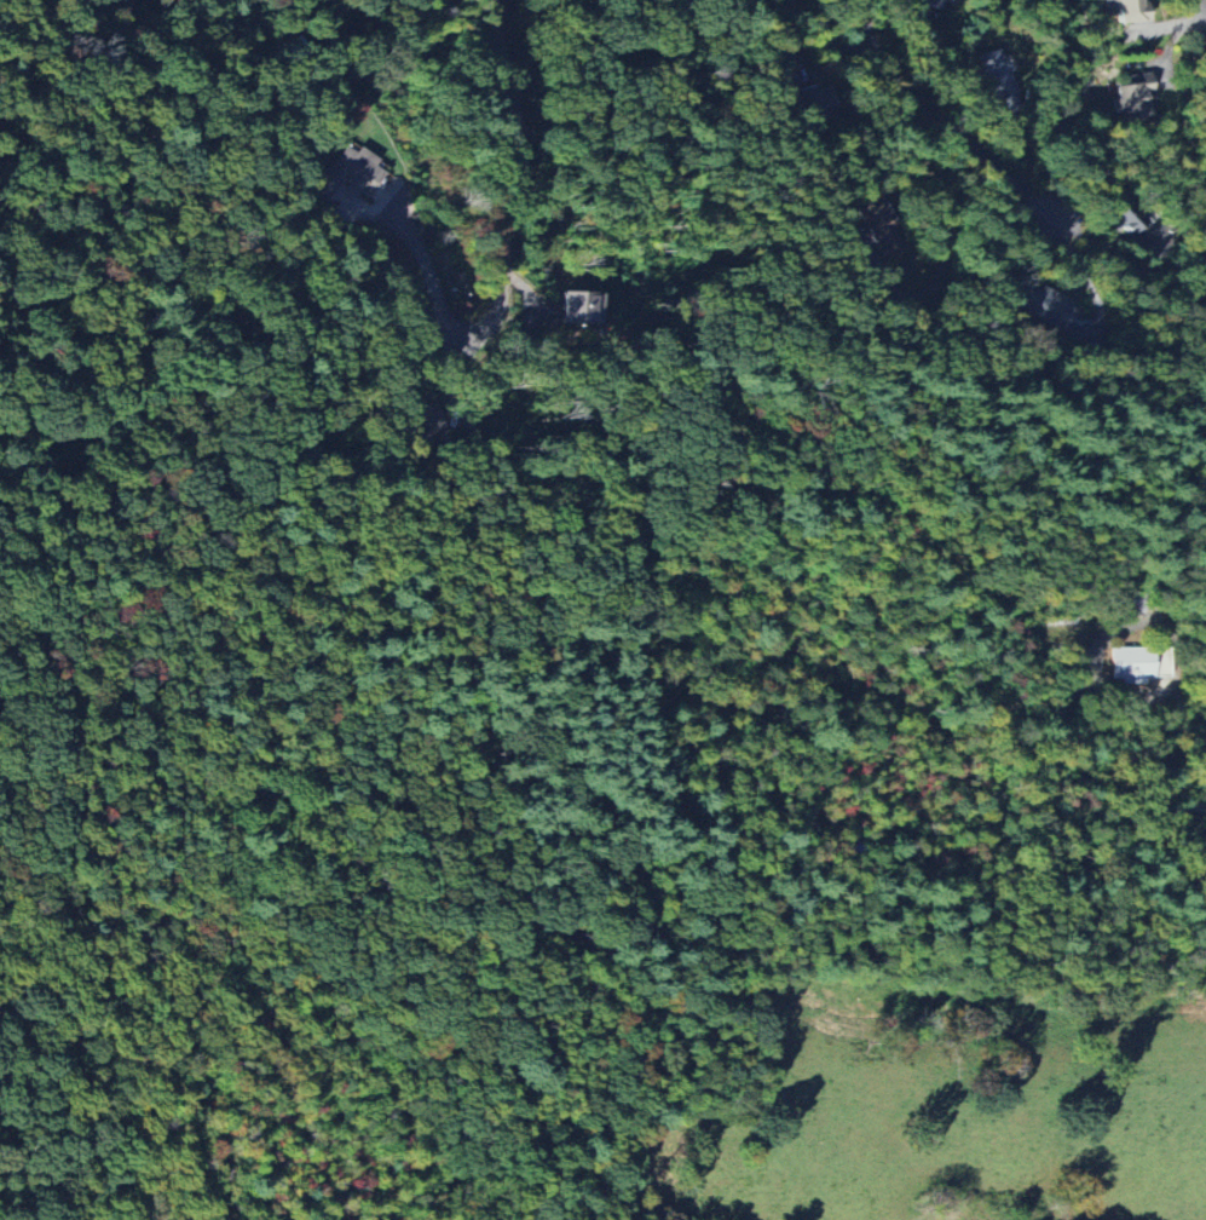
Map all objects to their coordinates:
building: (773, 0)
building: (931, 4)
building: (1130, 11)
road: (1201, 11)
building: (999, 82)
building: (1136, 96)
building: (816, 104)
road: (941, 122)
road: (513, 172)
building: (351, 173)
building: (1126, 217)
building: (879, 224)
road: (946, 228)
road: (417, 287)
building: (1045, 306)
building: (578, 309)
building: (420, 424)
road: (1097, 646)
building: (1139, 664)
road: (1160, 690)
road: (1132, 794)

